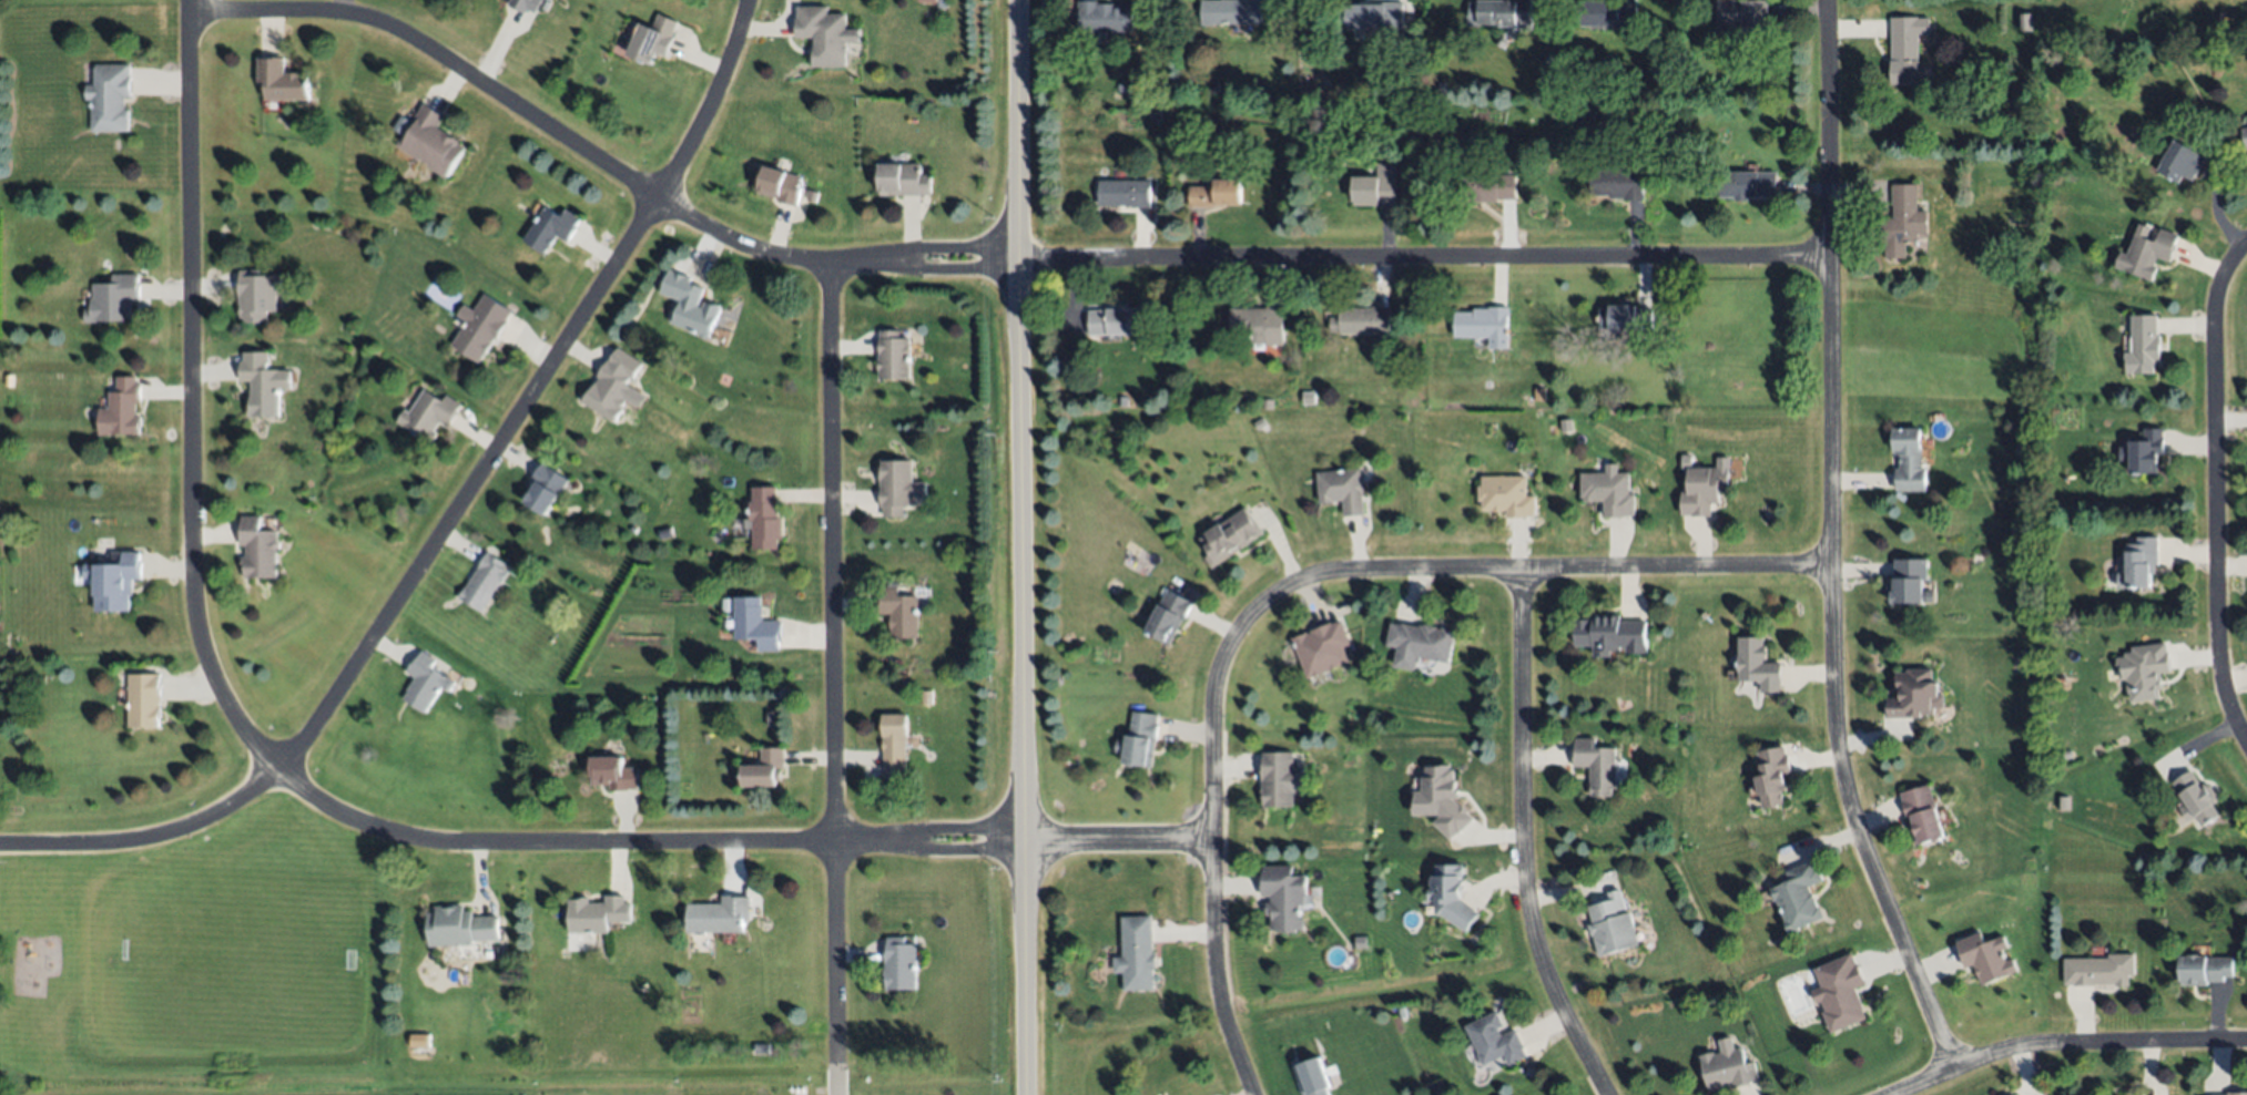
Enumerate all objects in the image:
building: (526, 4)
building: (1231, 11)
building: (1498, 11)
building: (1607, 11)
building: (1105, 16)
building: (1374, 16)
building: (1745, 19)
building: (2025, 21)
building: (825, 33)
building: (651, 37)
building: (1397, 42)
building: (1905, 48)
building: (282, 80)
building: (109, 96)
building: (1155, 115)
building: (2244, 137)
road: (571, 139)
building: (431, 142)
building: (2183, 158)
building: (903, 180)
building: (1617, 183)
building: (1748, 184)
building: (780, 186)
building: (1375, 187)
building: (1486, 187)
building: (1126, 192)
building: (1217, 193)
building: (1902, 221)
building: (553, 227)
building: (2021, 253)
building: (2147, 253)
road: (1393, 260)
building: (256, 295)
building: (112, 298)
building: (694, 308)
building: (1624, 316)
building: (1117, 320)
building: (1363, 320)
building: (1260, 324)
building: (480, 325)
building: (1484, 325)
building: (2143, 345)
building: (893, 355)
building: (260, 383)
building: (612, 383)
building: (1309, 398)
building: (1122, 399)
building: (1267, 402)
building: (123, 407)
building: (429, 415)
building: (2143, 451)
building: (1909, 459)
building: (1702, 484)
building: (897, 487)
building: (545, 488)
building: (1341, 490)
building: (1610, 490)
road: (2216, 491)
building: (1505, 495)
road: (448, 516)
building: (765, 519)
building: (1229, 535)
road: (1831, 538)
road: (1024, 546)
building: (256, 549)
building: (2138, 563)
building: (1909, 580)
building: (116, 582)
building: (484, 582)
road: (1289, 584)
building: (899, 612)
building: (1169, 614)
building: (755, 623)
building: (1610, 634)
building: (1420, 643)
building: (1322, 648)
building: (1759, 664)
road: (835, 669)
building: (2143, 672)
building: (424, 682)
building: (1914, 695)
building: (143, 700)
building: (1140, 740)
building: (894, 745)
building: (1597, 765)
building: (765, 768)
building: (612, 772)
building: (1772, 775)
building: (1279, 779)
building: (2194, 799)
building: (1442, 801)
building: (2063, 802)
road: (345, 811)
building: (1922, 813)
road: (1524, 840)
building: (1799, 896)
building: (1284, 897)
building: (1454, 897)
building: (598, 913)
building: (720, 914)
building: (1611, 924)
building: (458, 927)
building: (1136, 953)
building: (1989, 956)
building: (899, 964)
building: (2099, 970)
building: (2203, 970)
building: (1840, 991)
building: (418, 1041)
building: (1495, 1041)
road: (2053, 1050)
building: (1727, 1065)
building: (1314, 1077)
road: (837, 1086)
building: (2237, 1094)

